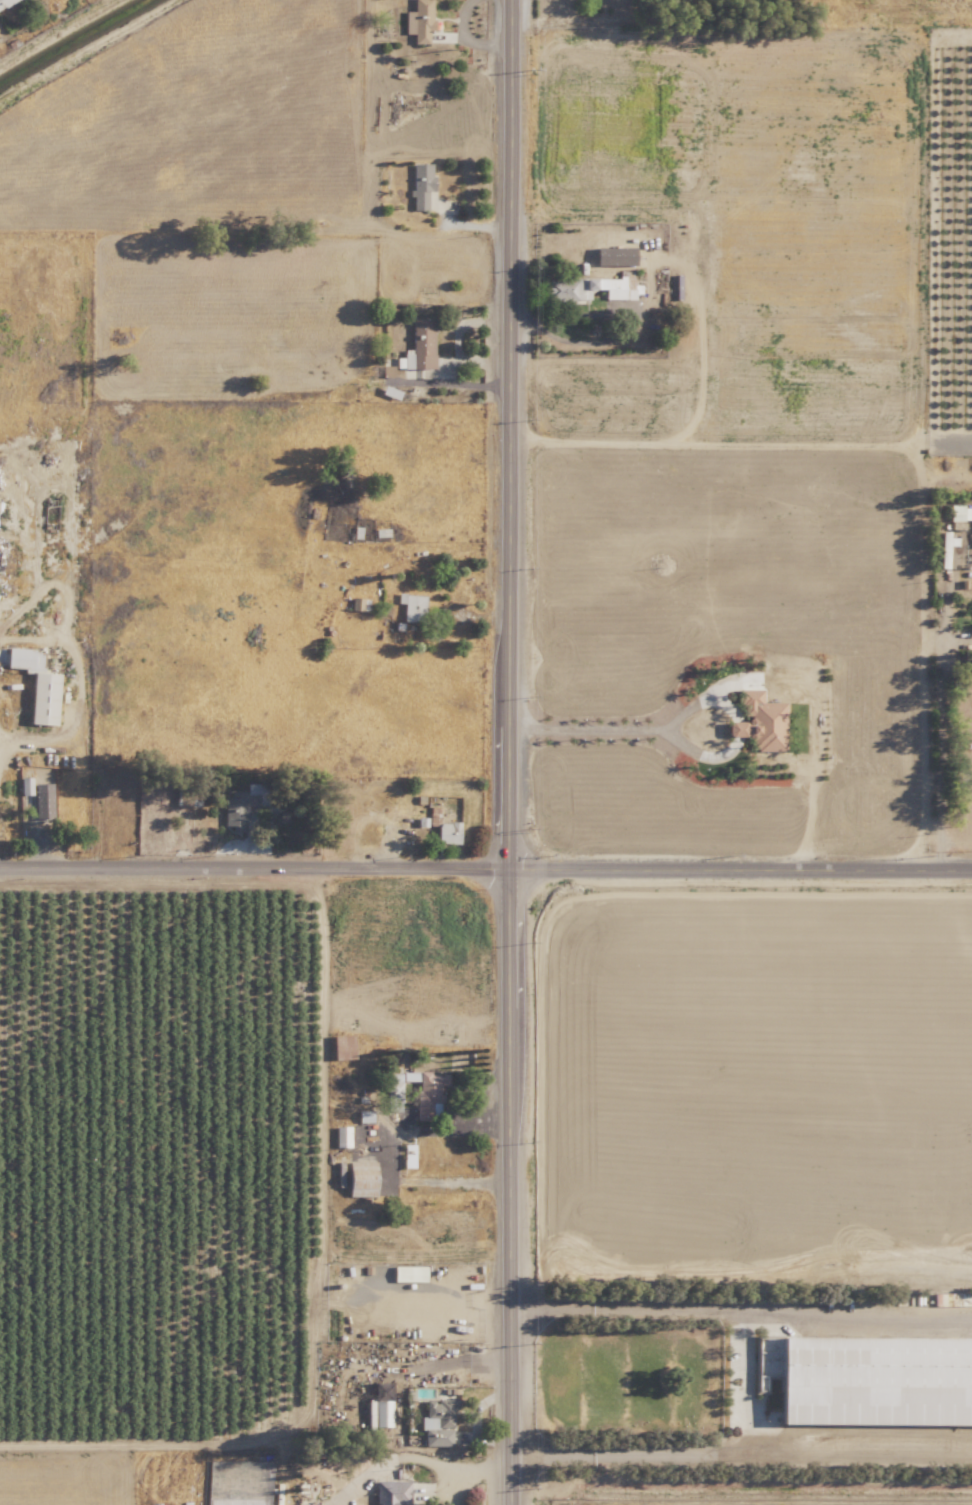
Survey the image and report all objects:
building: (5, 2)
building: (419, 20)
road: (467, 39)
building: (421, 184)
building: (589, 288)
crop: (185, 339)
road: (606, 341)
building: (418, 345)
crop: (744, 456)
building: (359, 604)
building: (413, 606)
building: (37, 685)
building: (759, 722)
road: (939, 722)
road: (589, 725)
road: (2, 744)
road: (508, 752)
building: (42, 801)
building: (448, 832)
road: (254, 867)
road: (739, 872)
building: (417, 1092)
building: (341, 1136)
road: (392, 1156)
building: (361, 1178)
road: (739, 1308)
road: (451, 1367)
building: (379, 1412)
building: (438, 1421)
road: (475, 1423)
road: (741, 1454)
road: (412, 1457)
road: (452, 1485)
building: (391, 1492)

